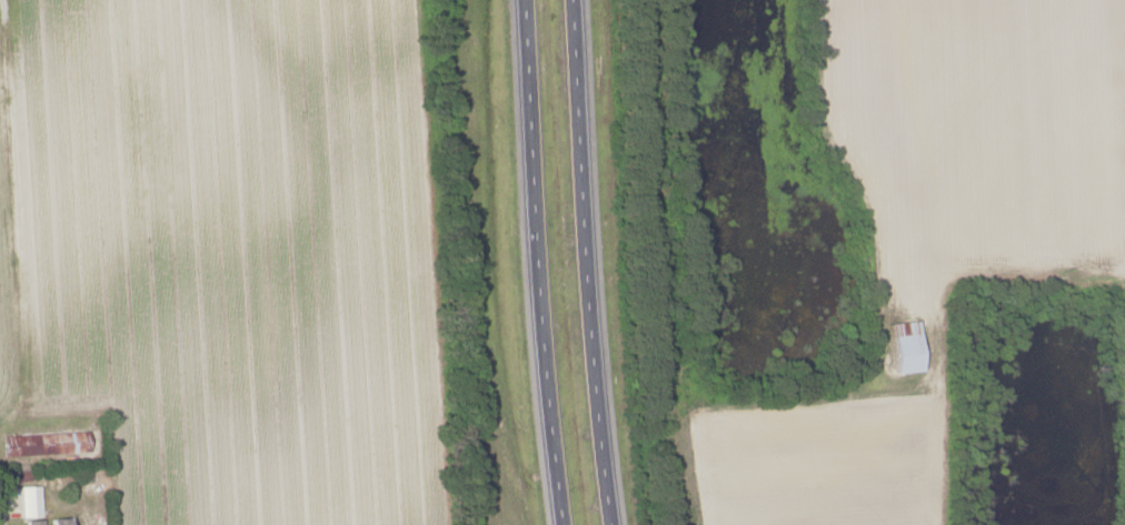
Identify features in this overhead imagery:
road: (537, 262)
road: (586, 262)
building: (905, 346)
building: (46, 443)
building: (29, 502)
building: (50, 522)

